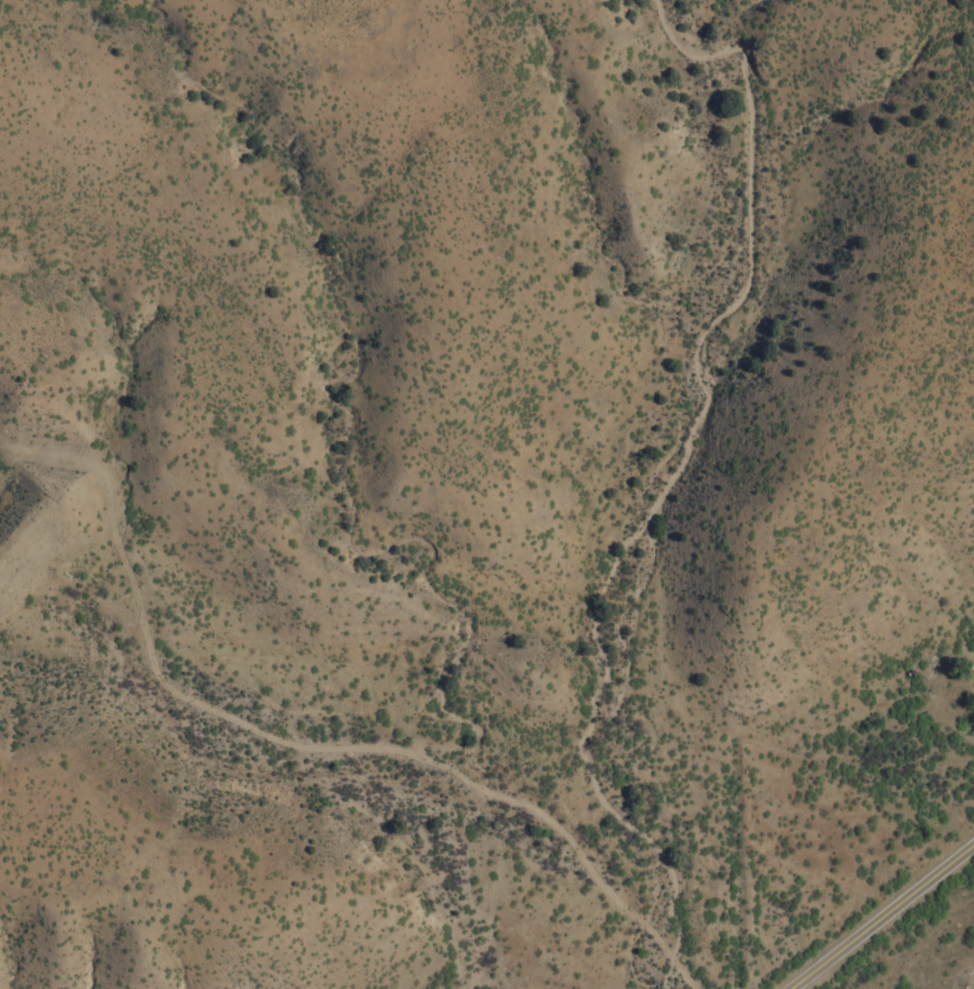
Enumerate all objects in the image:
road: (882, 917)

